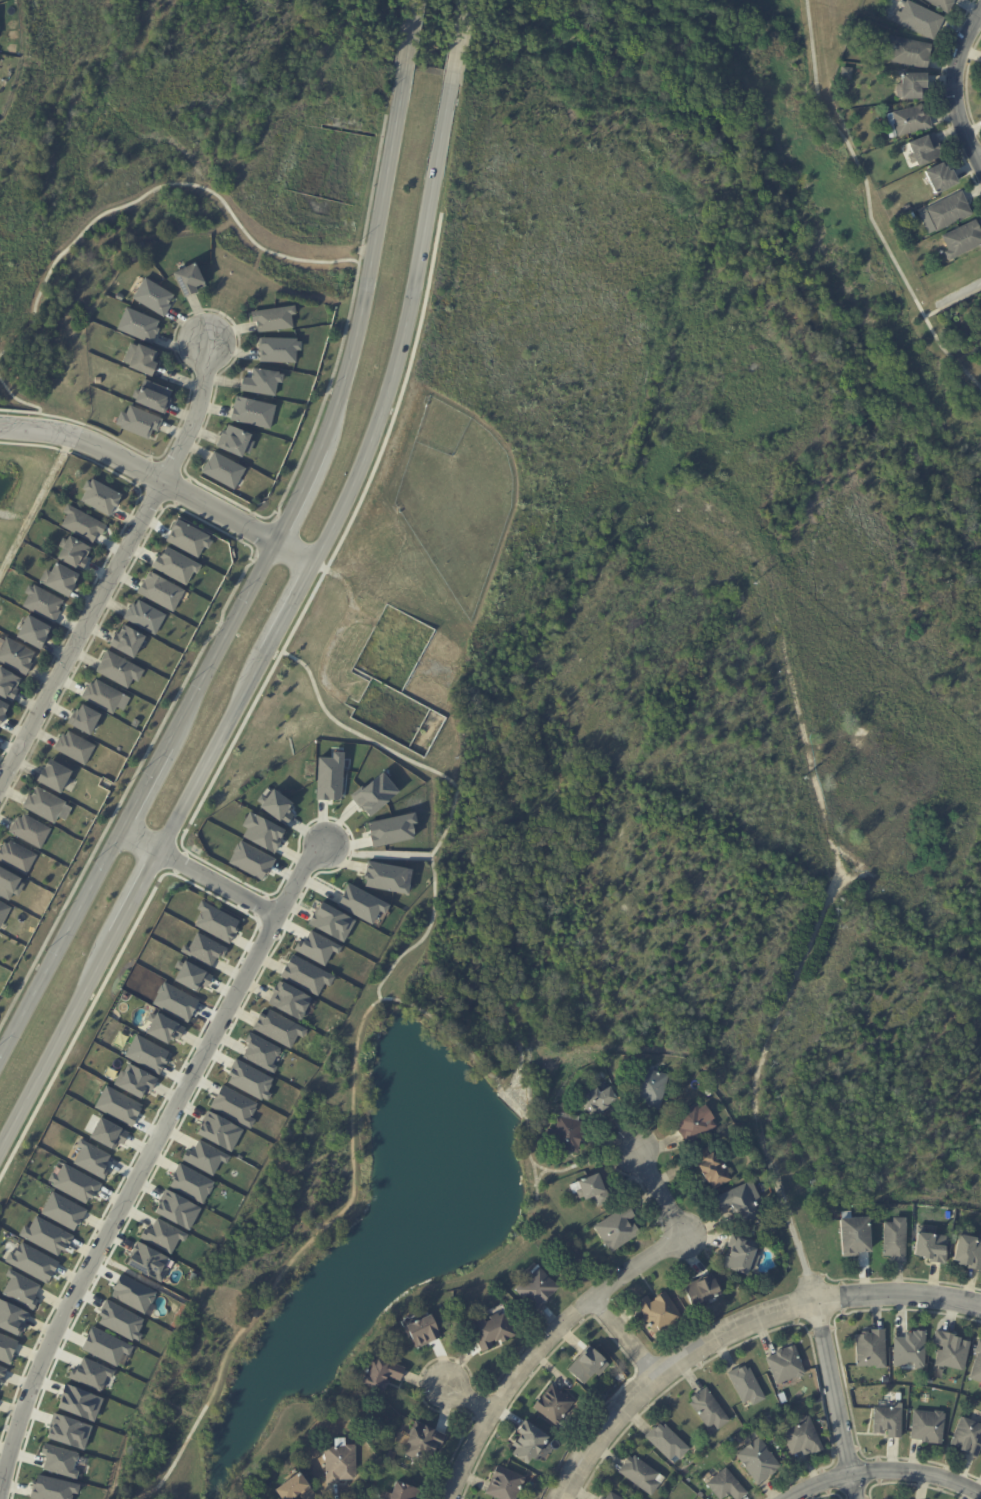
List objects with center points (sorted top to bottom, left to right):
building: (943, 4)
building: (920, 21)
road: (410, 34)
road: (458, 36)
building: (911, 52)
building: (847, 74)
building: (911, 85)
road: (952, 95)
building: (908, 122)
building: (924, 151)
building: (941, 179)
park: (162, 181)
road: (156, 188)
road: (867, 189)
park: (817, 209)
building: (950, 211)
building: (912, 217)
building: (963, 240)
building: (141, 246)
building: (189, 280)
building: (154, 297)
building: (274, 319)
building: (138, 326)
building: (279, 350)
road: (948, 355)
building: (141, 360)
building: (262, 383)
building: (153, 397)
road: (26, 404)
building: (253, 413)
building: (138, 423)
building: (235, 443)
building: (223, 471)
road: (160, 484)
building: (100, 496)
building: (82, 523)
building: (189, 538)
building: (73, 551)
road: (114, 564)
building: (175, 565)
building: (59, 577)
road: (254, 581)
building: (161, 591)
building: (42, 603)
building: (144, 616)
road: (278, 628)
building: (33, 632)
building: (127, 640)
building: (15, 655)
building: (118, 669)
building: (8, 684)
building: (105, 696)
building: (2, 710)
building: (85, 719)
building: (135, 723)
building: (74, 747)
building: (53, 774)
building: (331, 776)
road: (455, 792)
building: (376, 793)
building: (44, 804)
building: (279, 806)
building: (394, 829)
building: (29, 830)
building: (263, 832)
road: (376, 853)
building: (16, 857)
building: (252, 860)
road: (197, 872)
building: (388, 877)
building: (9, 884)
building: (363, 903)
building: (3, 913)
building: (216, 921)
building: (332, 922)
building: (317, 947)
building: (204, 949)
building: (190, 975)
building: (306, 975)
building: (290, 1000)
building: (175, 1001)
building: (164, 1028)
building: (279, 1028)
building: (261, 1052)
building: (147, 1053)
building: (135, 1080)
building: (250, 1080)
road: (756, 1081)
building: (651, 1088)
building: (597, 1099)
building: (118, 1105)
building: (234, 1106)
building: (694, 1122)
building: (220, 1131)
building: (109, 1133)
building: (567, 1134)
road: (351, 1139)
road: (146, 1153)
building: (206, 1157)
building: (92, 1159)
road: (581, 1164)
road: (540, 1167)
building: (712, 1169)
building: (75, 1183)
building: (191, 1183)
building: (592, 1190)
building: (742, 1201)
building: (178, 1210)
building: (63, 1211)
building: (761, 1223)
building: (618, 1229)
building: (46, 1235)
building: (163, 1236)
building: (855, 1237)
building: (896, 1240)
building: (931, 1245)
building: (969, 1252)
building: (741, 1257)
building: (149, 1261)
building: (33, 1262)
building: (21, 1288)
building: (536, 1288)
building: (703, 1290)
building: (134, 1294)
building: (659, 1312)
road: (576, 1313)
building: (12, 1317)
building: (121, 1320)
building: (448, 1322)
road: (735, 1325)
building: (423, 1332)
building: (493, 1332)
road: (627, 1338)
building: (106, 1346)
building: (7, 1348)
building: (871, 1349)
building: (911, 1350)
building: (952, 1352)
building: (588, 1366)
building: (786, 1366)
building: (977, 1366)
building: (2, 1373)
building: (90, 1374)
building: (382, 1374)
building: (886, 1381)
building: (746, 1386)
road: (460, 1388)
building: (603, 1399)
road: (836, 1400)
building: (80, 1402)
building: (554, 1406)
building: (709, 1410)
building: (770, 1419)
building: (888, 1423)
building: (929, 1428)
building: (70, 1431)
building: (803, 1438)
building: (969, 1438)
building: (424, 1443)
building: (667, 1443)
building: (529, 1444)
building: (392, 1456)
building: (60, 1460)
building: (759, 1462)
building: (341, 1463)
road: (888, 1474)
building: (642, 1476)
building: (505, 1485)
building: (727, 1486)
building: (53, 1488)
building: (295, 1490)
building: (405, 1493)
building: (613, 1497)
building: (602, 1498)

